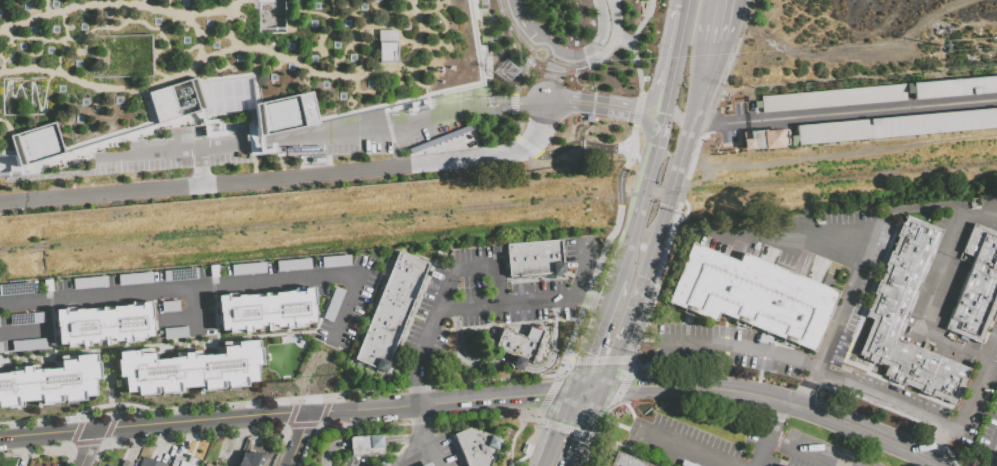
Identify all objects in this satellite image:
road: (88, 2)
road: (119, 2)
road: (691, 3)
road: (162, 5)
road: (434, 5)
road: (41, 6)
road: (327, 6)
road: (369, 6)
road: (309, 12)
road: (433, 12)
road: (345, 13)
road: (291, 14)
park: (628, 15)
road: (490, 20)
park: (494, 20)
park: (564, 20)
road: (138, 21)
road: (239, 21)
road: (713, 21)
road: (185, 23)
road: (360, 23)
road: (604, 25)
road: (512, 26)
road: (364, 27)
road: (367, 27)
road: (104, 28)
road: (155, 28)
road: (226, 29)
road: (424, 30)
road: (322, 31)
road: (209, 35)
road: (26, 38)
road: (545, 38)
road: (613, 38)
road: (347, 39)
road: (59, 40)
road: (511, 40)
road: (625, 40)
park: (651, 40)
road: (399, 41)
road: (3, 42)
road: (357, 42)
road: (470, 43)
road: (438, 44)
road: (634, 44)
road: (195, 45)
street lamp: (656, 45)
road: (81, 46)
road: (434, 47)
road: (231, 48)
road: (155, 50)
road: (317, 50)
road: (398, 51)
road: (33, 54)
park: (222, 55)
road: (498, 55)
road: (531, 55)
road: (347, 57)
road: (249, 58)
road: (426, 59)
road: (679, 60)
road: (312, 61)
road: (527, 62)
road: (170, 63)
road: (197, 63)
park: (504, 64)
road: (566, 64)
road: (274, 65)
road: (266, 66)
building: (212, 67)
road: (216, 68)
road: (133, 69)
road: (559, 72)
power tower: (503, 73)
road: (521, 74)
park: (532, 74)
road: (97, 76)
park: (605, 76)
parking lot: (346, 80)
road: (411, 81)
road: (59, 82)
road: (23, 84)
road: (700, 86)
street lamp: (726, 86)
building: (955, 86)
road: (251, 87)
parking lot: (92, 89)
road: (235, 90)
road: (375, 91)
road: (345, 94)
building: (831, 96)
road: (470, 97)
road: (28, 101)
road: (142, 104)
road: (513, 104)
road: (433, 106)
road: (621, 108)
road: (638, 110)
road: (843, 115)
road: (399, 116)
street lamp: (579, 116)
street lamp: (458, 119)
road: (677, 119)
road: (4, 125)
road: (514, 125)
building: (896, 125)
road: (347, 126)
street lamp: (625, 126)
building: (214, 127)
road: (313, 131)
road: (236, 134)
road: (275, 137)
road: (335, 137)
road: (170, 139)
building: (761, 140)
road: (583, 144)
road: (525, 145)
street lamp: (551, 145)
road: (134, 147)
road: (634, 149)
road: (197, 154)
street lamp: (617, 154)
road: (656, 154)
street lamp: (366, 155)
road: (97, 156)
street lamp: (399, 156)
street lamp: (331, 157)
road: (681, 160)
street lamp: (524, 162)
road: (46, 167)
street lamp: (212, 167)
street lamp: (180, 170)
street lamp: (447, 171)
street lamp: (147, 172)
street lamp: (114, 174)
road: (289, 174)
street lamp: (406, 175)
street lamp: (79, 177)
street lamp: (367, 179)
street lamp: (52, 180)
street lamp: (330, 183)
road: (684, 185)
street lamp: (292, 187)
road: (620, 187)
street lamp: (254, 191)
street lamp: (214, 195)
street lamp: (178, 198)
street lamp: (139, 201)
parking lot: (987, 202)
street lamp: (94, 205)
railway: (498, 206)
street lamp: (57, 207)
street lamp: (24, 210)
road: (859, 230)
building: (919, 230)
road: (632, 235)
building: (982, 236)
parking lot: (792, 241)
road: (607, 249)
building: (911, 251)
building: (979, 251)
building: (552, 258)
building: (536, 259)
building: (517, 260)
road: (471, 268)
road: (585, 270)
road: (648, 270)
building: (901, 274)
building: (403, 275)
building: (980, 281)
road: (176, 286)
parking lot: (501, 290)
parking lot: (860, 292)
parking lot: (939, 294)
parking lot: (192, 295)
building: (892, 296)
building: (751, 297)
road: (587, 298)
road: (846, 300)
road: (592, 302)
building: (392, 303)
building: (266, 304)
road: (477, 305)
building: (168, 306)
road: (932, 308)
street lamp: (561, 310)
road: (214, 311)
road: (410, 312)
building: (886, 313)
building: (969, 318)
building: (105, 320)
building: (385, 322)
road: (857, 323)
road: (52, 325)
building: (884, 327)
road: (22, 331)
building: (174, 332)
road: (598, 334)
road: (644, 338)
road: (657, 341)
building: (376, 342)
road: (165, 343)
building: (871, 344)
building: (516, 346)
parking lot: (722, 347)
road: (742, 348)
street lamp: (635, 349)
traffic signals: (591, 353)
building: (890, 353)
building: (370, 358)
road: (600, 361)
building: (906, 362)
road: (514, 364)
road: (868, 366)
street lamp: (565, 367)
road: (611, 368)
building: (920, 368)
building: (189, 369)
building: (935, 375)
road: (531, 376)
building: (952, 381)
building: (51, 383)
road: (417, 384)
road: (623, 384)
traffic signals: (638, 386)
road: (590, 390)
road: (810, 390)
road: (341, 394)
traffic signals: (532, 395)
road: (547, 395)
road: (777, 401)
parking lot: (980, 401)
road: (441, 402)
road: (629, 408)
road: (324, 410)
road: (137, 411)
road: (781, 412)
road: (289, 413)
street lamp: (607, 413)
road: (605, 414)
road: (912, 418)
road: (932, 418)
road: (202, 421)
road: (636, 423)
road: (398, 424)
street lamp: (539, 424)
road: (615, 424)
road: (301, 425)
road: (589, 427)
road: (560, 428)
road: (566, 428)
road: (634, 429)
road: (514, 432)
road: (48, 435)
road: (203, 436)
road: (424, 436)
parking lot: (988, 437)
road: (297, 438)
road: (365, 441)
road: (939, 442)
road: (530, 443)
traffic signals: (583, 443)
road: (768, 443)
road: (85, 444)
gas station: (417, 444)
building: (365, 445)
parking lot: (688, 445)
road: (45, 448)
road: (89, 448)
building: (475, 448)
road: (685, 448)
parking lot: (794, 448)
parking lot: (446, 449)
road: (412, 450)
road: (588, 451)
road: (799, 454)
road: (993, 457)
building: (245, 458)
building: (178, 461)
building: (625, 461)
building: (127, 462)
building: (151, 462)
parking lot: (354, 462)
building: (425, 464)
building: (107, 465)
building: (110, 465)
building: (207, 465)
building: (216, 465)
road: (989, 465)

